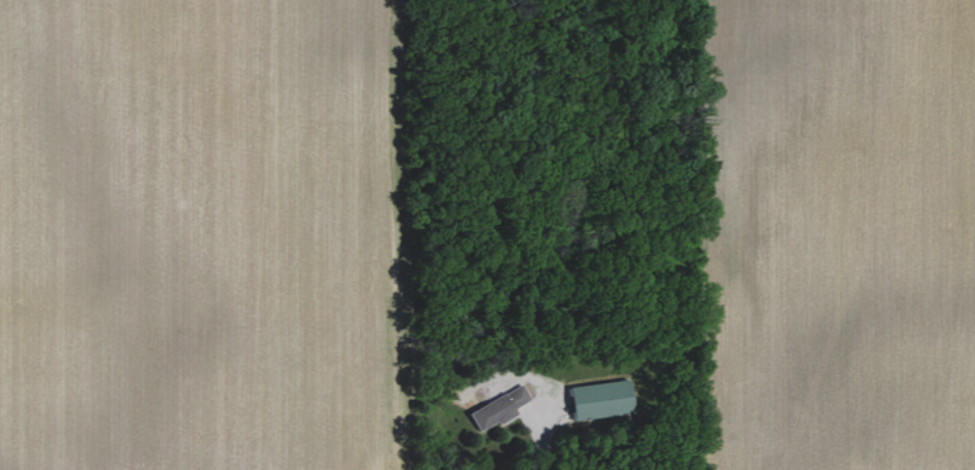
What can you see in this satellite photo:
building: (603, 401)
building: (499, 407)
road: (541, 427)

